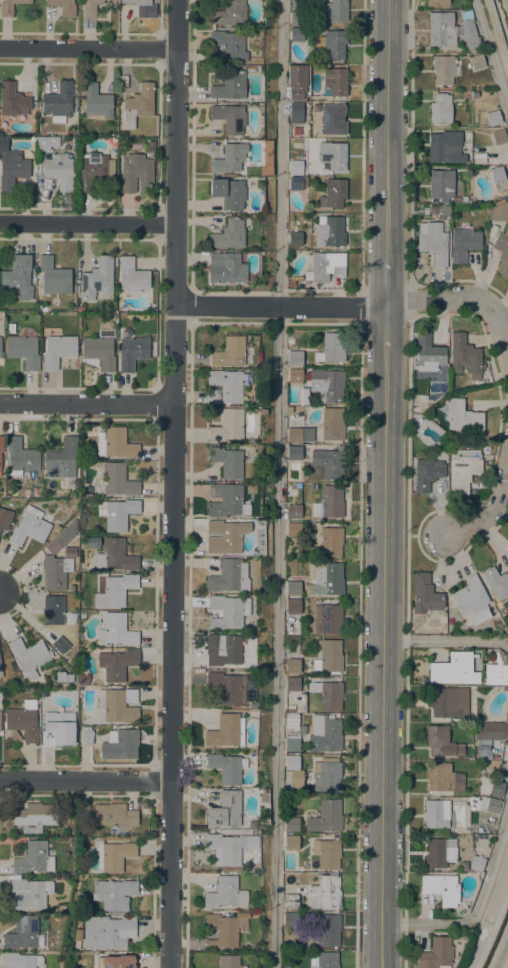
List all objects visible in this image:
building: (437, 3)
building: (10, 7)
building: (64, 7)
building: (141, 7)
building: (90, 8)
building: (333, 11)
building: (230, 13)
building: (297, 19)
building: (441, 29)
building: (296, 34)
building: (468, 34)
road: (496, 38)
building: (334, 44)
building: (229, 46)
road: (88, 48)
road: (490, 58)
building: (476, 62)
building: (443, 70)
building: (297, 81)
building: (334, 82)
building: (229, 85)
building: (12, 100)
building: (96, 102)
building: (58, 103)
building: (138, 104)
building: (296, 108)
building: (440, 109)
building: (229, 118)
building: (493, 118)
building: (332, 120)
road: (387, 130)
building: (499, 137)
building: (32, 139)
building: (46, 143)
road: (410, 143)
building: (150, 147)
building: (445, 147)
road: (175, 152)
building: (332, 156)
building: (229, 158)
building: (295, 167)
building: (12, 170)
building: (94, 170)
building: (60, 171)
building: (135, 173)
building: (249, 173)
building: (497, 174)
building: (297, 183)
building: (441, 184)
road: (361, 186)
building: (228, 193)
building: (333, 194)
building: (464, 199)
building: (445, 211)
building: (499, 212)
road: (87, 223)
building: (330, 233)
building: (229, 235)
building: (295, 239)
building: (433, 242)
building: (463, 244)
building: (502, 252)
building: (326, 266)
building: (225, 269)
building: (131, 276)
building: (54, 277)
building: (17, 278)
building: (97, 279)
road: (386, 283)
building: (291, 284)
road: (409, 300)
road: (469, 300)
road: (280, 306)
road: (361, 307)
building: (38, 308)
building: (80, 309)
road: (386, 330)
building: (0, 341)
building: (332, 348)
building: (58, 350)
building: (23, 351)
building: (99, 352)
building: (229, 352)
building: (1, 353)
building: (132, 353)
road: (173, 354)
building: (428, 354)
building: (465, 357)
building: (295, 358)
building: (295, 376)
building: (227, 384)
building: (327, 385)
building: (213, 397)
road: (86, 403)
building: (416, 407)
building: (262, 412)
building: (462, 416)
building: (332, 424)
building: (227, 426)
building: (294, 434)
building: (116, 444)
building: (1, 447)
building: (294, 453)
building: (20, 458)
building: (61, 459)
building: (227, 462)
building: (329, 462)
building: (463, 469)
building: (427, 474)
building: (118, 480)
road: (277, 483)
building: (37, 492)
building: (225, 500)
building: (329, 503)
road: (492, 509)
building: (293, 511)
building: (117, 514)
building: (5, 519)
building: (30, 527)
building: (57, 529)
building: (294, 530)
building: (65, 535)
building: (225, 537)
building: (331, 542)
building: (52, 547)
building: (115, 556)
building: (55, 572)
building: (229, 577)
building: (326, 579)
building: (496, 583)
building: (293, 588)
building: (114, 590)
building: (425, 595)
building: (471, 600)
road: (358, 604)
building: (293, 606)
building: (81, 607)
building: (227, 611)
building: (54, 612)
building: (82, 615)
building: (329, 618)
building: (246, 627)
building: (116, 630)
road: (405, 640)
road: (446, 640)
building: (60, 645)
building: (222, 649)
building: (28, 657)
building: (329, 657)
road: (381, 659)
building: (116, 664)
building: (292, 666)
building: (453, 670)
building: (0, 671)
building: (496, 674)
building: (83, 679)
building: (292, 684)
road: (170, 685)
building: (227, 688)
building: (505, 688)
building: (73, 693)
building: (328, 694)
building: (447, 702)
building: (117, 706)
building: (252, 706)
building: (290, 709)
building: (506, 711)
building: (291, 721)
building: (22, 723)
building: (56, 726)
building: (302, 729)
building: (225, 731)
building: (490, 731)
building: (325, 733)
building: (85, 735)
building: (292, 742)
building: (441, 742)
building: (119, 744)
building: (292, 763)
building: (227, 767)
building: (326, 775)
building: (296, 777)
building: (441, 777)
road: (85, 780)
building: (496, 788)
building: (265, 791)
building: (490, 805)
building: (225, 810)
building: (436, 813)
building: (114, 815)
building: (35, 817)
building: (325, 817)
building: (291, 825)
building: (249, 826)
building: (235, 832)
building: (477, 838)
building: (291, 843)
building: (229, 848)
building: (327, 853)
building: (439, 853)
building: (113, 855)
building: (33, 858)
building: (476, 863)
building: (440, 888)
building: (324, 892)
building: (225, 893)
building: (28, 894)
building: (114, 894)
building: (291, 901)
building: (60, 908)
road: (475, 908)
building: (291, 920)
building: (225, 929)
building: (327, 931)
building: (108, 932)
building: (24, 933)
building: (436, 954)
building: (20, 960)
building: (326, 960)
building: (119, 961)
building: (228, 961)
road: (507, 966)

